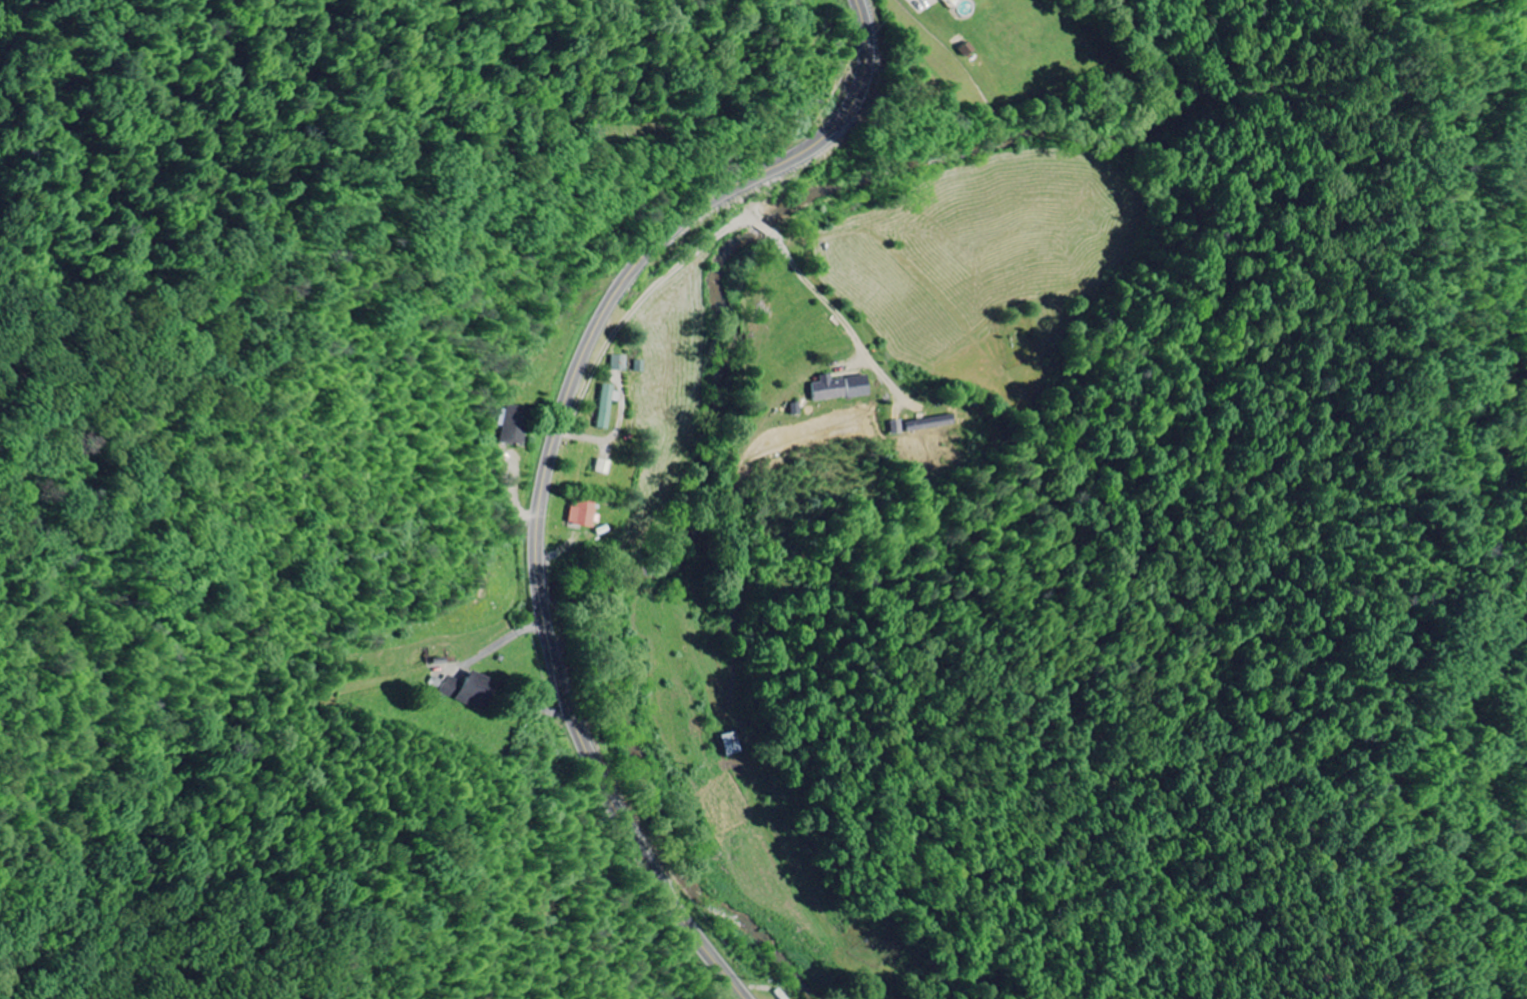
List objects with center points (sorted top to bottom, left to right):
building: (942, 1)
building: (961, 48)
road: (753, 215)
building: (838, 388)
building: (606, 407)
building: (930, 424)
building: (512, 425)
building: (897, 428)
road: (549, 460)
building: (601, 467)
building: (580, 513)
road: (536, 625)
building: (438, 684)
building: (468, 690)
building: (729, 744)

